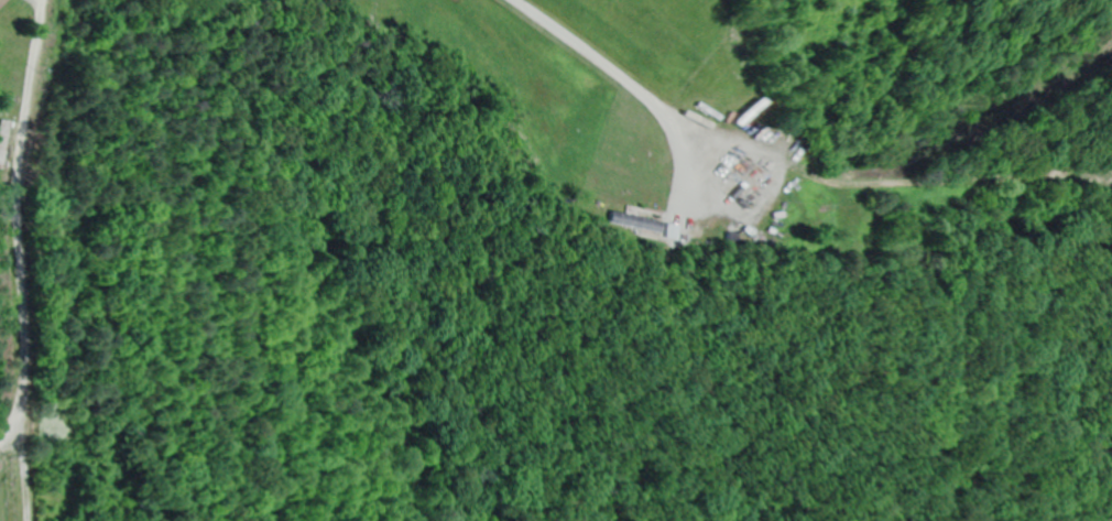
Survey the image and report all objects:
building: (1, 1)
building: (7, 143)
road: (40, 200)

